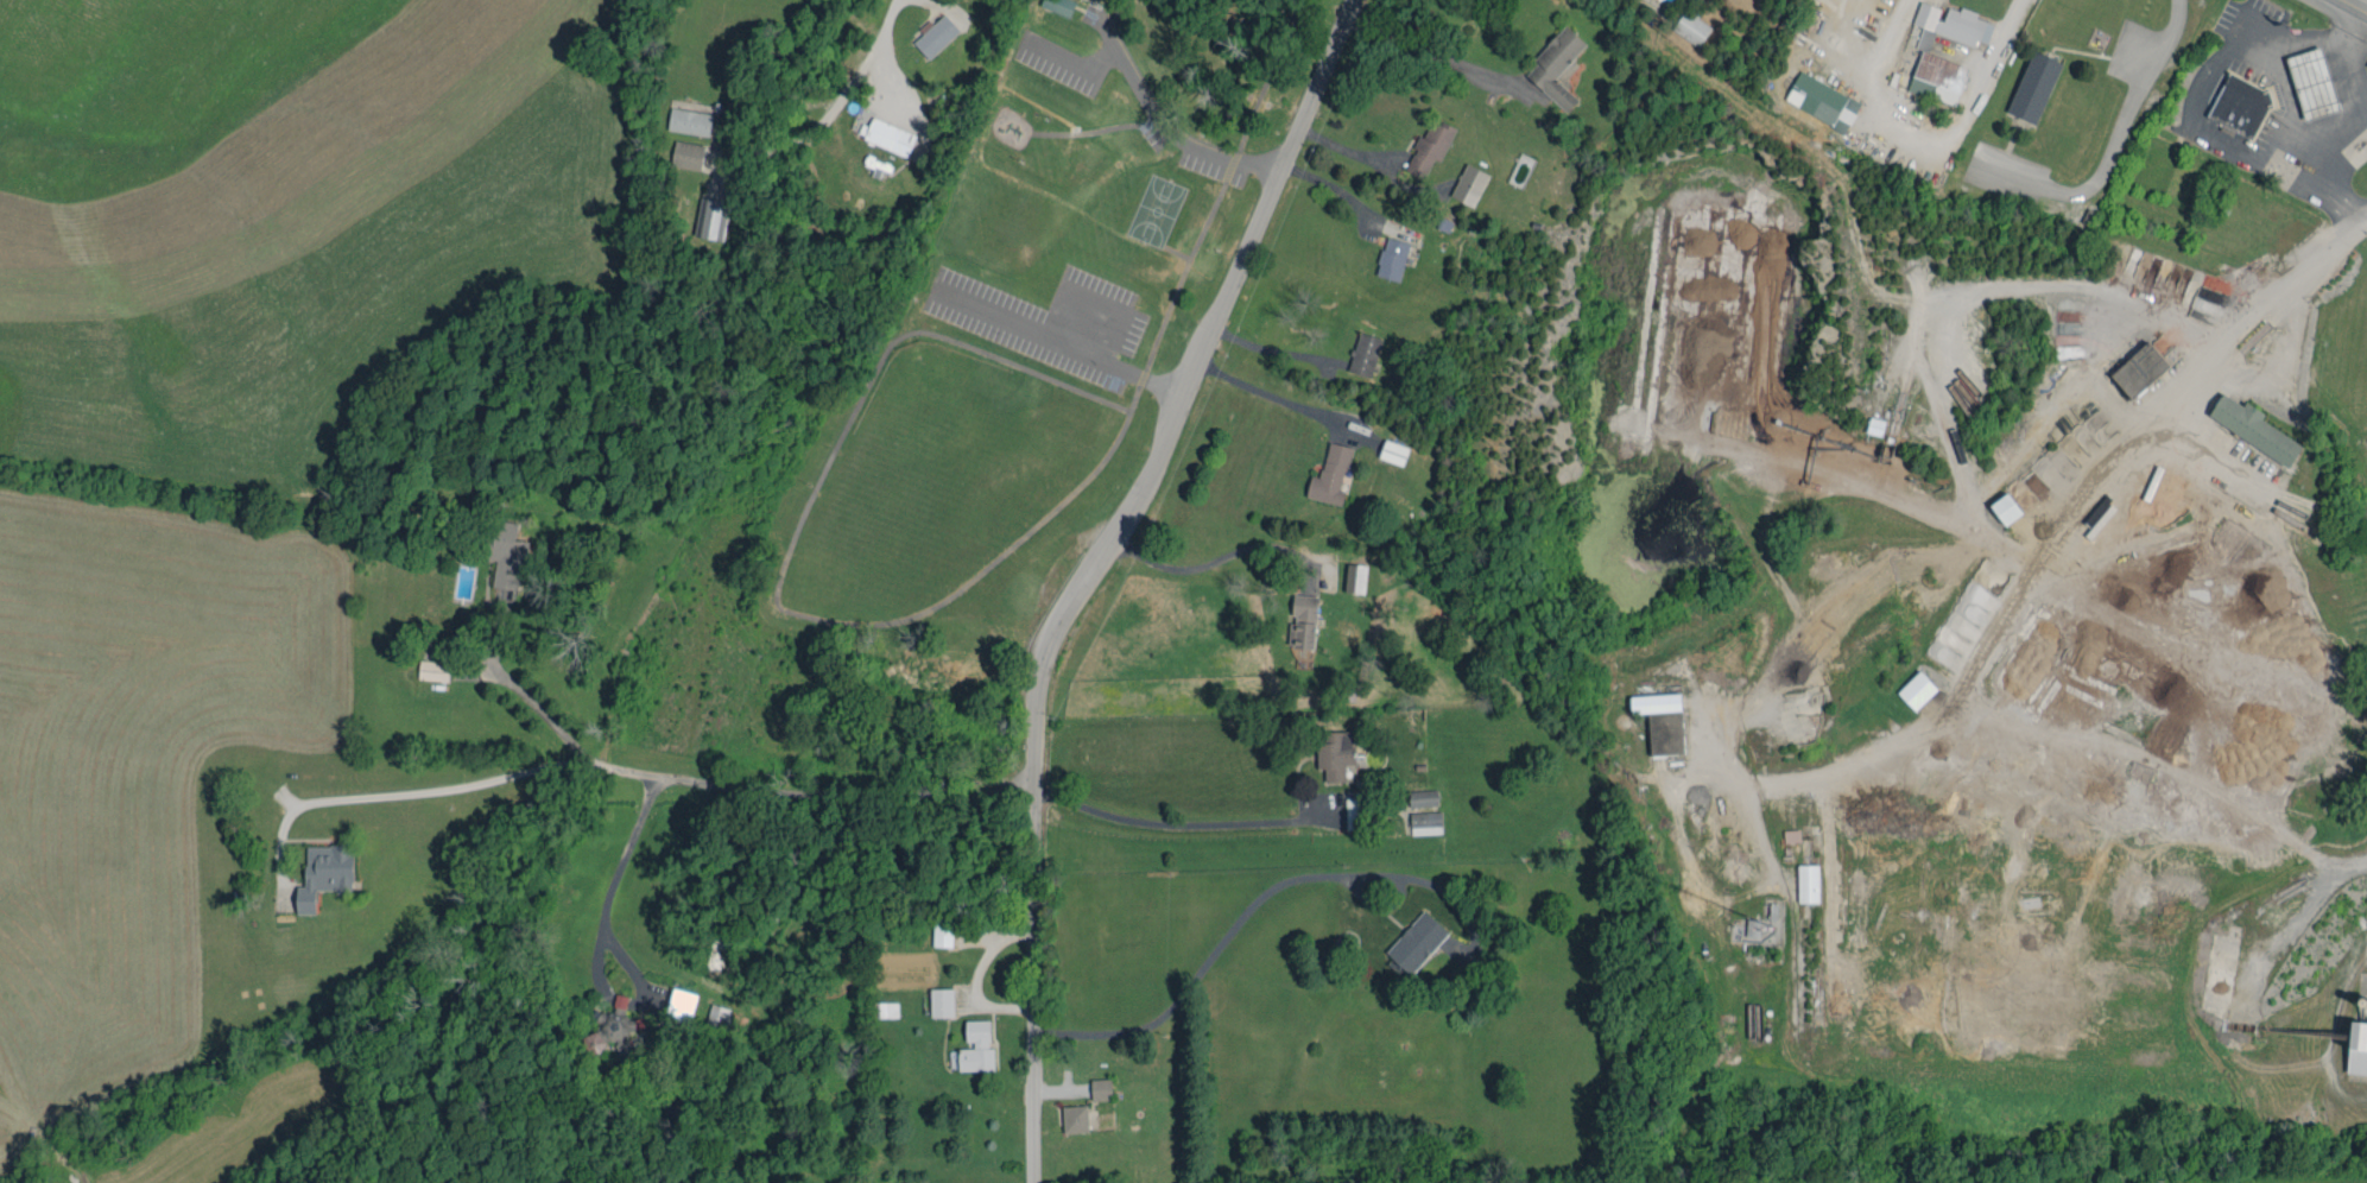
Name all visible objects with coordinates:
road: (1285, 1)
building: (1055, 5)
road: (2356, 5)
road: (942, 7)
building: (1948, 19)
building: (930, 31)
road: (2343, 49)
road: (1435, 52)
building: (1550, 63)
road: (880, 71)
building: (1932, 75)
building: (2029, 84)
road: (2200, 84)
building: (2311, 84)
building: (1817, 97)
building: (2240, 106)
road: (825, 107)
building: (684, 118)
road: (1163, 124)
building: (881, 132)
building: (1424, 144)
road: (2113, 146)
building: (682, 151)
road: (2311, 158)
building: (1463, 179)
road: (1336, 188)
building: (704, 216)
building: (1386, 253)
road: (2258, 304)
park: (1032, 328)
building: (1357, 349)
road: (1272, 352)
road: (1091, 356)
building: (2134, 365)
road: (1278, 397)
building: (2248, 423)
building: (1387, 447)
building: (1324, 470)
building: (2000, 502)
building: (405, 515)
building: (500, 550)
road: (1210, 558)
road: (1094, 568)
building: (1349, 572)
road: (937, 600)
building: (1297, 616)
building: (1911, 685)
road: (523, 692)
building: (1656, 716)
building: (1329, 749)
road: (667, 776)
building: (1417, 793)
building: (1419, 818)
road: (1171, 823)
building: (317, 869)
road: (619, 871)
building: (1803, 879)
road: (1248, 899)
road: (1369, 909)
building: (936, 929)
building: (1410, 937)
building: (935, 998)
building: (673, 999)
building: (879, 1005)
building: (587, 1038)
building: (969, 1043)
building: (2355, 1043)
building: (1095, 1084)
building: (1068, 1114)

